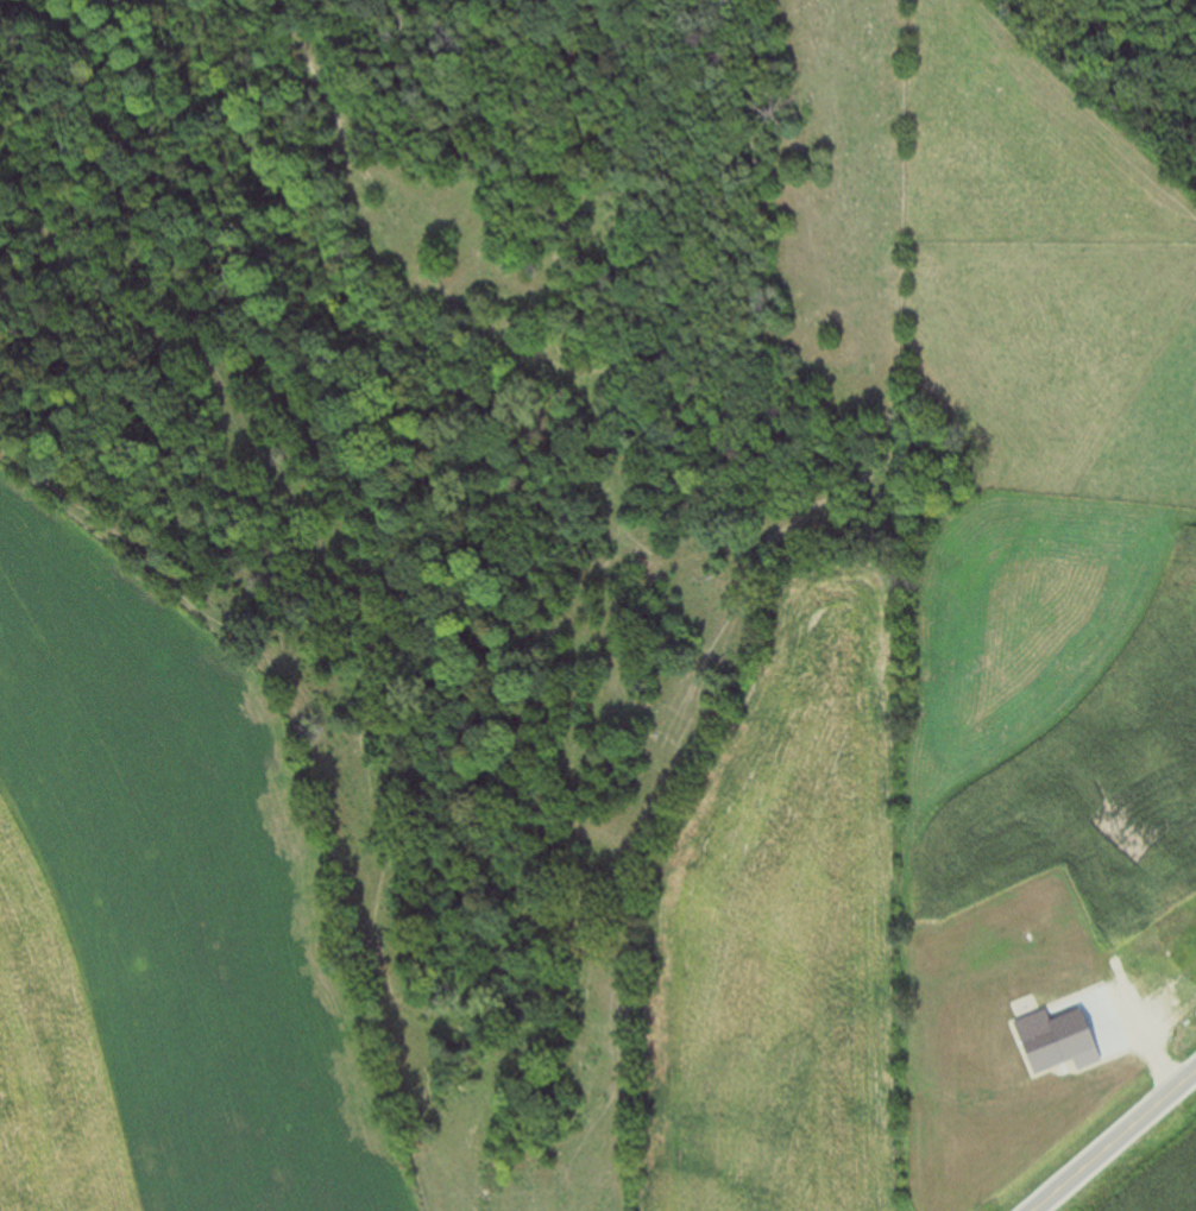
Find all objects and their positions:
road: (1089, 1128)

